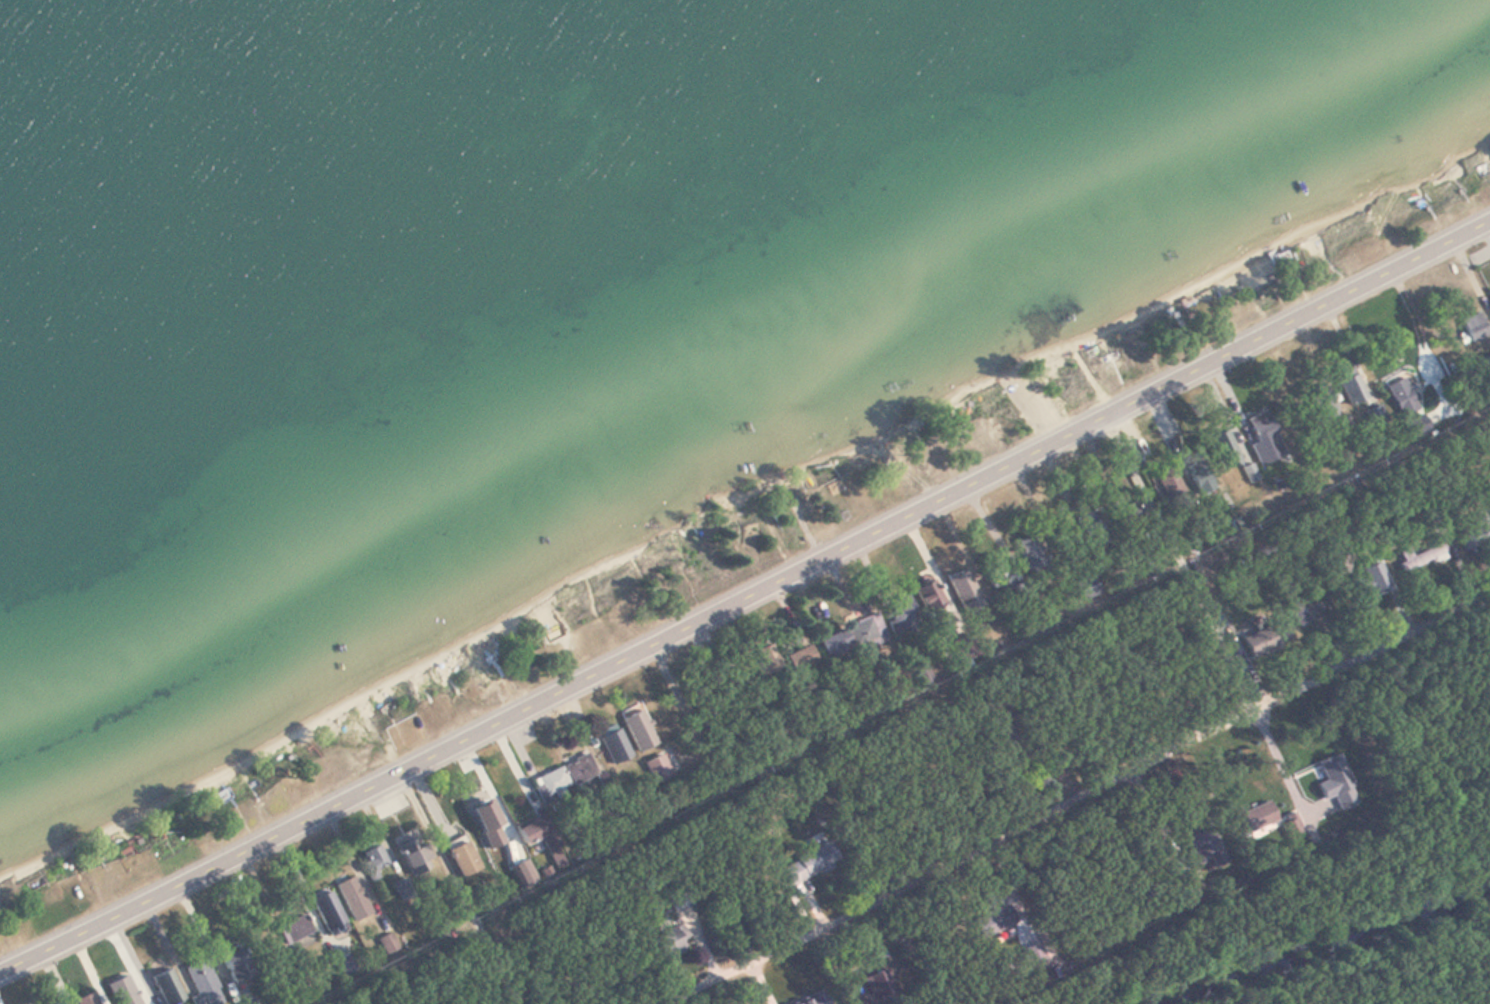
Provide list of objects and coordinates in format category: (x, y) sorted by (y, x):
building: (1283, 260)
building: (1471, 329)
building: (1354, 391)
building: (1403, 399)
building: (1262, 434)
building: (1472, 531)
building: (1028, 552)
building: (1421, 559)
road: (1183, 561)
building: (1371, 577)
building: (1088, 587)
building: (928, 595)
road: (746, 599)
building: (902, 617)
building: (868, 631)
building: (1262, 641)
building: (837, 644)
road: (1374, 652)
building: (805, 656)
building: (920, 675)
building: (641, 732)
building: (615, 746)
building: (657, 767)
building: (562, 779)
building: (541, 837)
building: (1204, 848)
building: (417, 856)
road: (968, 859)
building: (817, 860)
road: (461, 890)
building: (352, 898)
building: (678, 899)
building: (327, 911)
building: (997, 920)
building: (294, 930)
building: (671, 939)
building: (237, 963)
building: (203, 983)
building: (877, 986)
building: (167, 987)
building: (87, 999)
building: (815, 999)

